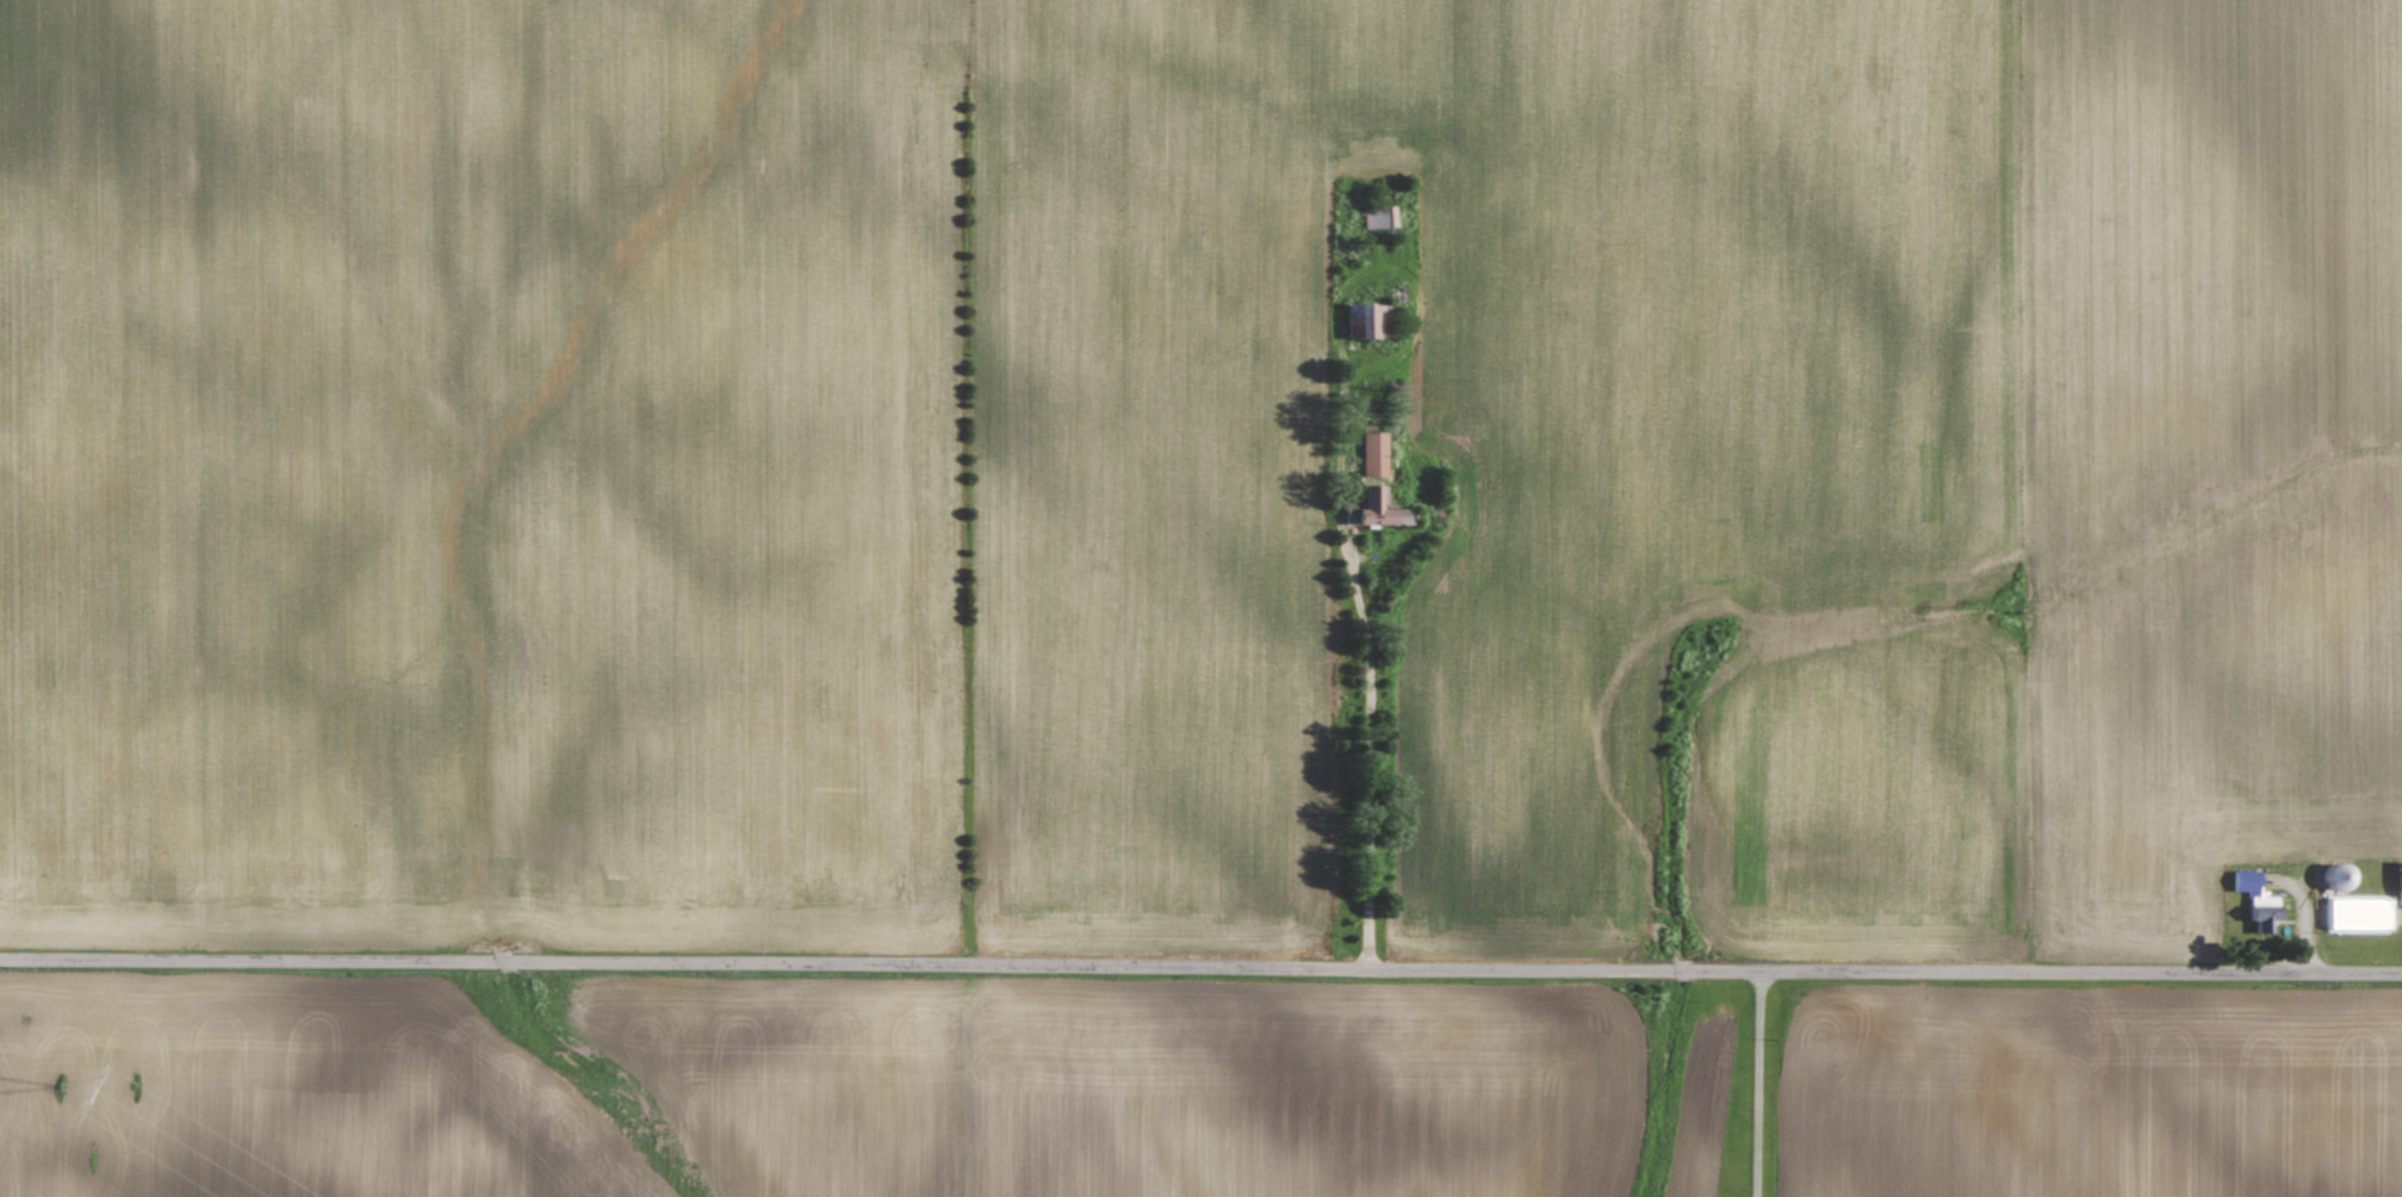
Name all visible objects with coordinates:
building: (1377, 453)
road: (1365, 693)
building: (2395, 888)
building: (2352, 916)
road: (1200, 968)
road: (1757, 1084)
power tower: (56, 1086)

